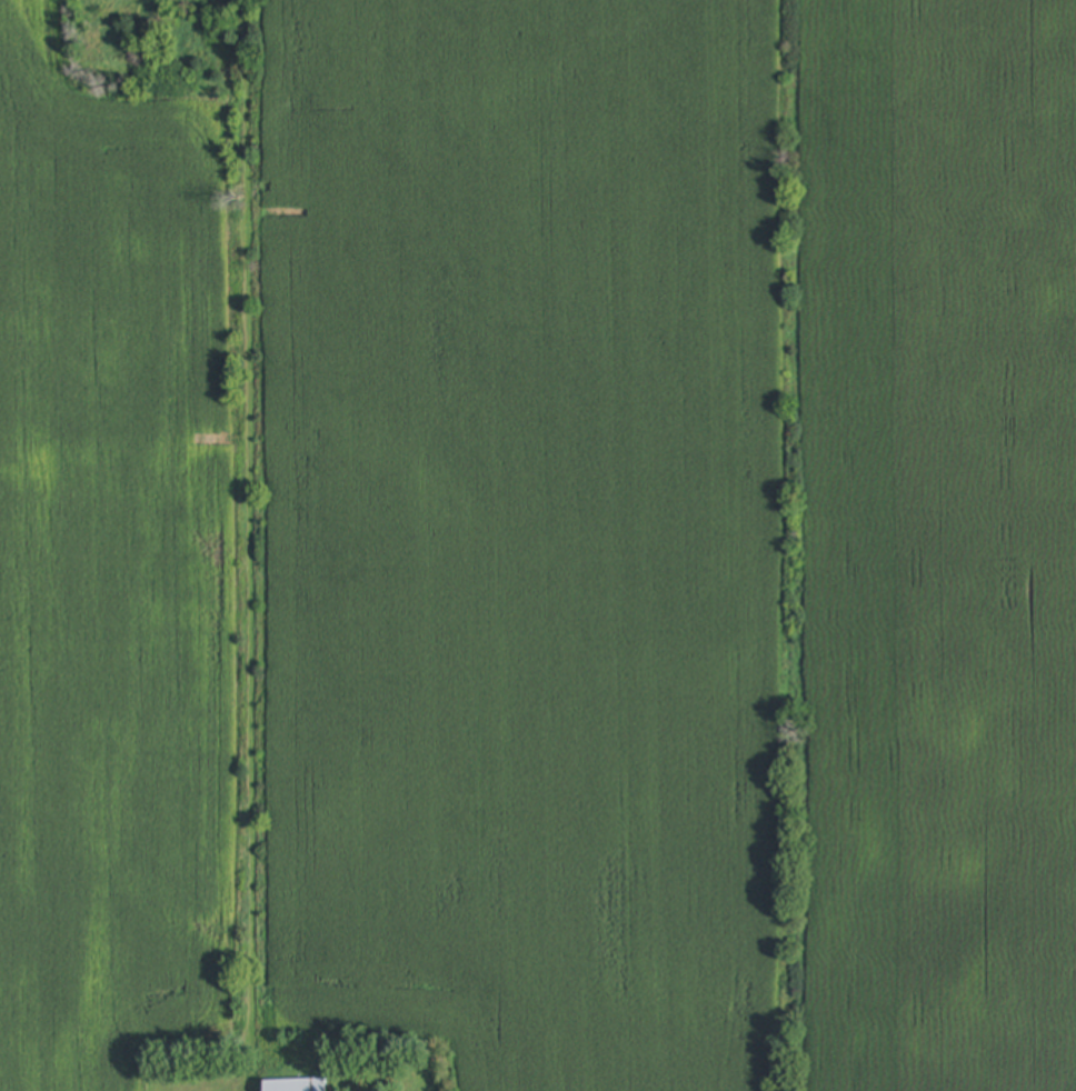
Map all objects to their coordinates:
building: (296, 1085)

